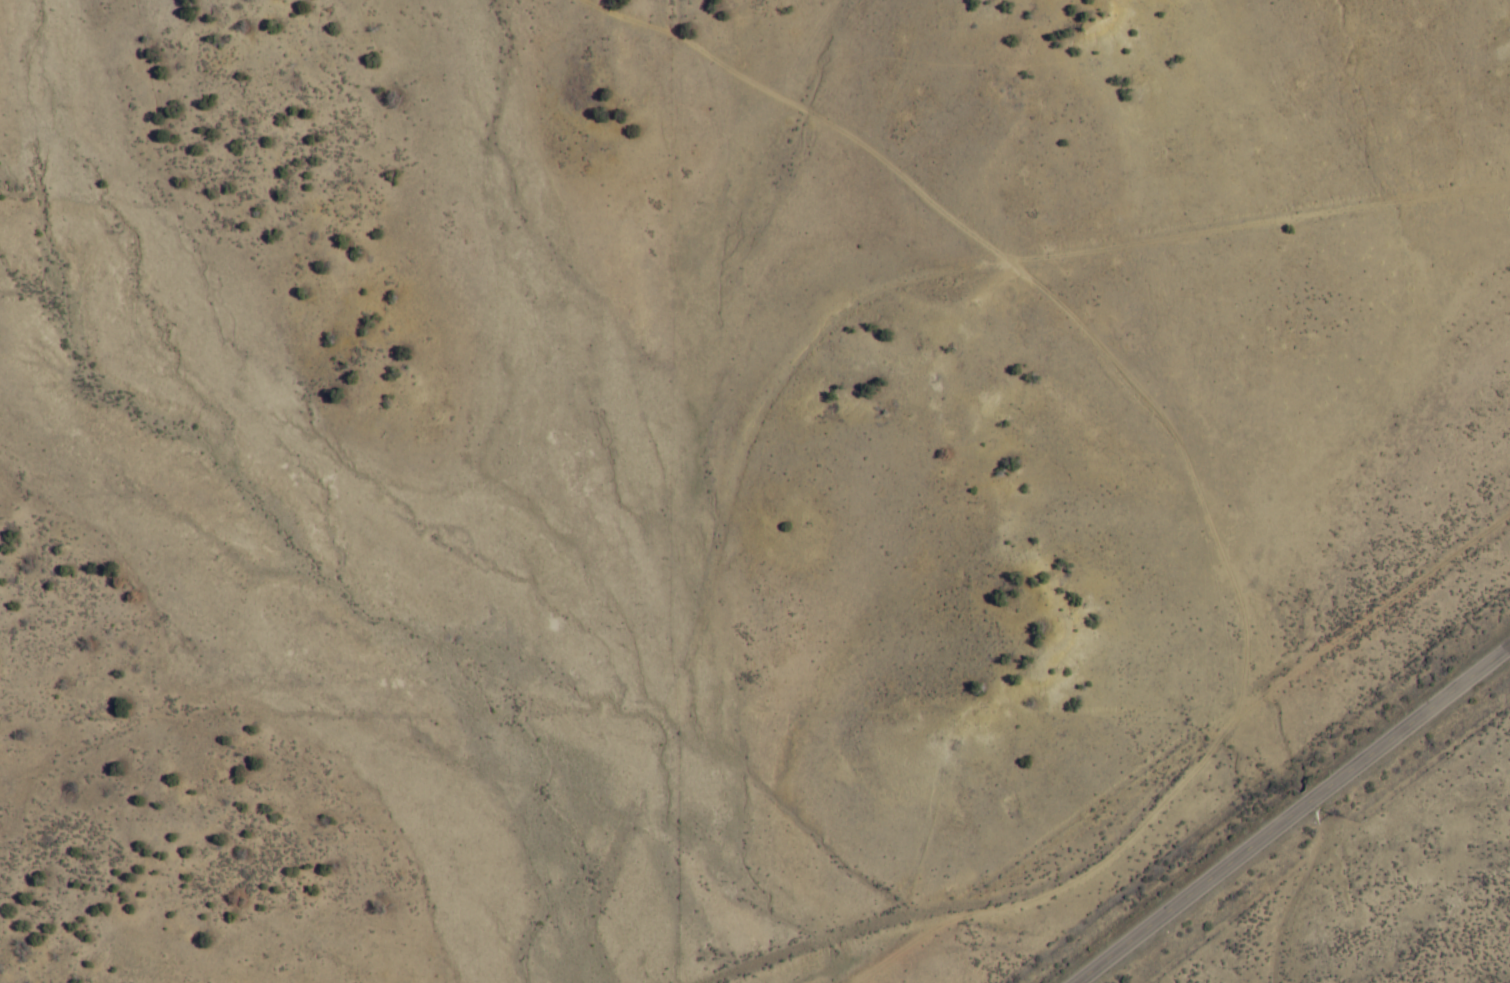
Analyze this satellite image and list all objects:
road: (1289, 811)

